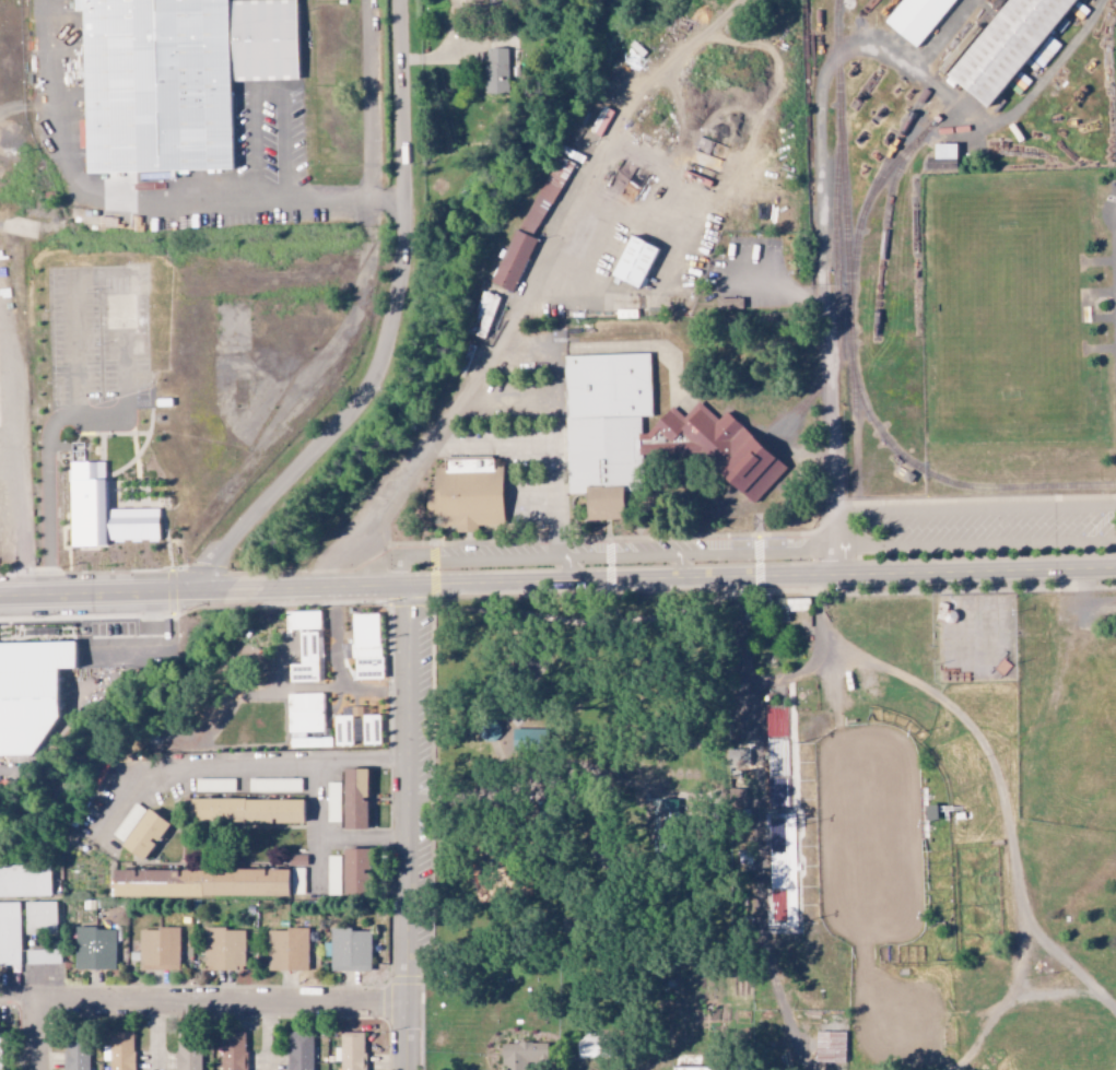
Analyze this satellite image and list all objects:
building: (917, 17)
building: (1007, 47)
building: (495, 70)
building: (185, 79)
building: (943, 155)
railway: (901, 169)
railway: (868, 188)
road: (1115, 216)
building: (531, 223)
building: (275, 255)
building: (634, 261)
road: (530, 287)
building: (729, 305)
park: (1003, 306)
building: (483, 314)
building: (238, 321)
road: (395, 331)
building: (110, 340)
railway: (849, 346)
building: (606, 426)
parking lot: (518, 428)
building: (469, 492)
building: (104, 512)
parking lot: (980, 528)
parking lot: (647, 546)
parking lot: (490, 551)
road: (557, 583)
building: (303, 620)
building: (366, 646)
building: (307, 658)
building: (31, 690)
parking lot: (428, 708)
building: (305, 719)
building: (356, 728)
building: (529, 740)
road: (215, 768)
parking lot: (421, 777)
building: (274, 785)
building: (355, 798)
park: (602, 799)
building: (332, 802)
building: (246, 811)
road: (409, 827)
road: (321, 830)
building: (144, 835)
road: (365, 840)
building: (297, 860)
building: (356, 871)
building: (333, 875)
building: (24, 881)
building: (296, 881)
building: (201, 882)
park: (892, 889)
building: (39, 917)
building: (9, 933)
building: (94, 949)
building: (158, 949)
building: (224, 949)
building: (287, 950)
building: (350, 950)
building: (43, 956)
road: (23, 999)
road: (193, 1001)
building: (592, 1046)
building: (830, 1046)
building: (121, 1050)
building: (299, 1050)
building: (188, 1051)
building: (350, 1051)
building: (233, 1053)
building: (522, 1055)
building: (0, 1056)
building: (75, 1056)
building: (693, 1069)

